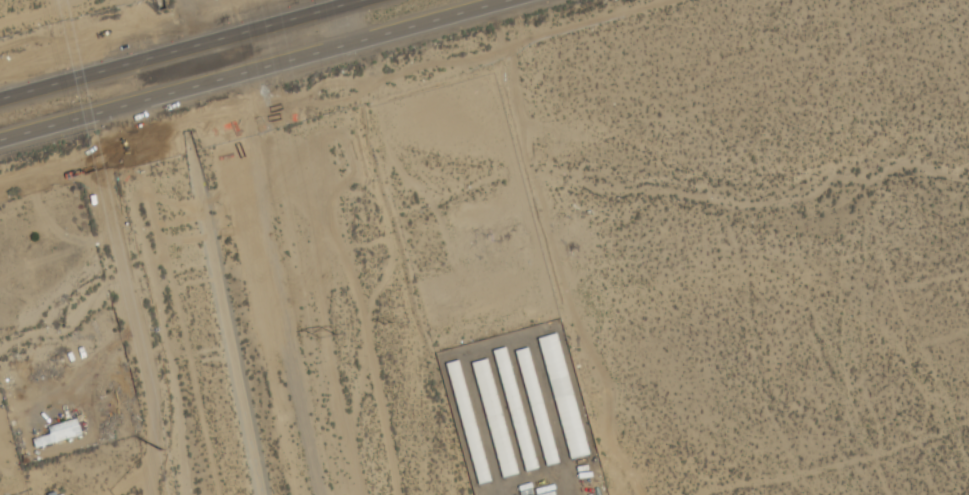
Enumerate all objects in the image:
road: (181, 49)
road: (257, 70)
road: (133, 304)
power tower: (386, 325)
power tower: (330, 339)
building: (563, 397)
building: (536, 409)
building: (514, 410)
building: (494, 417)
building: (468, 424)
building: (59, 430)
power tower: (158, 447)
building: (63, 494)

